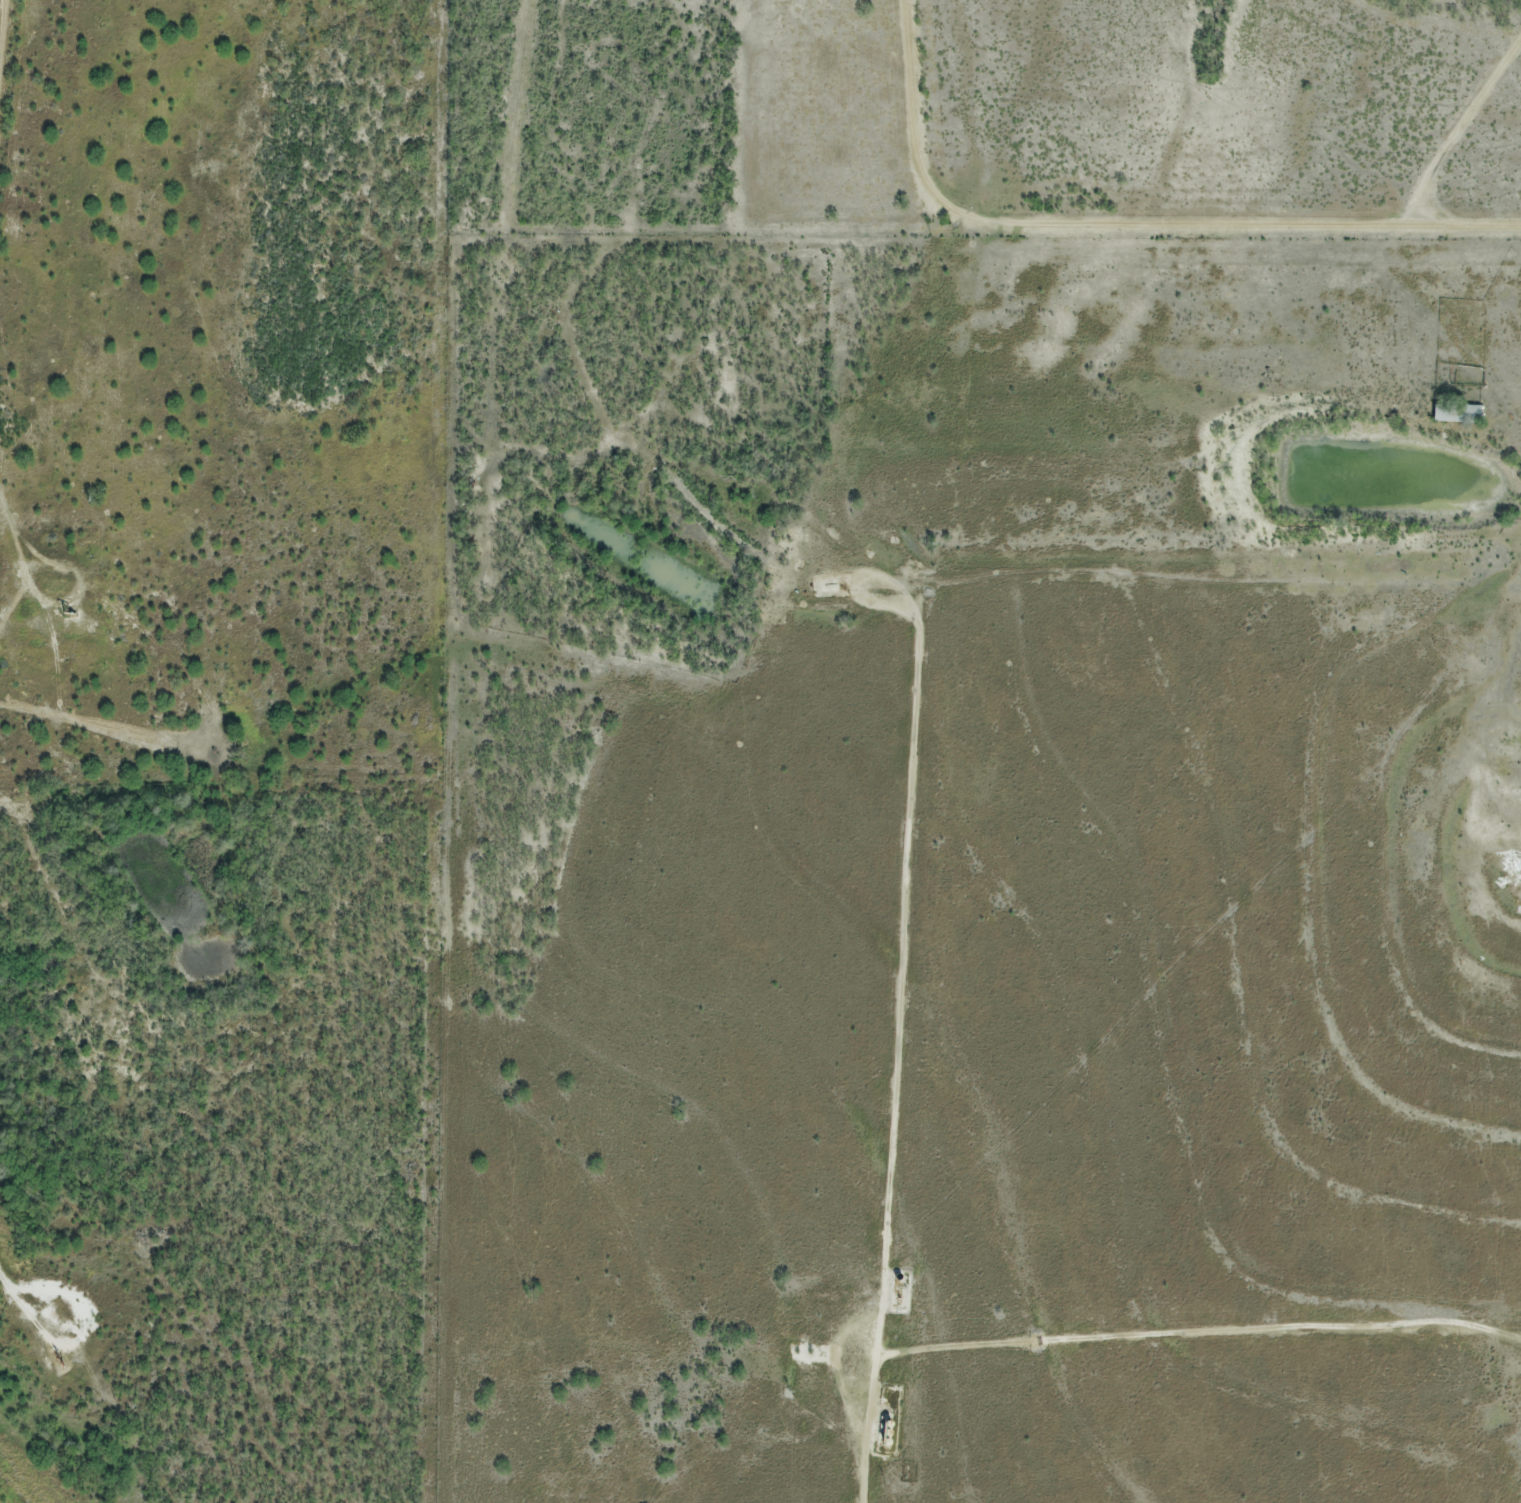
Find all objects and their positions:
building: (1456, 413)
building: (1507, 780)

